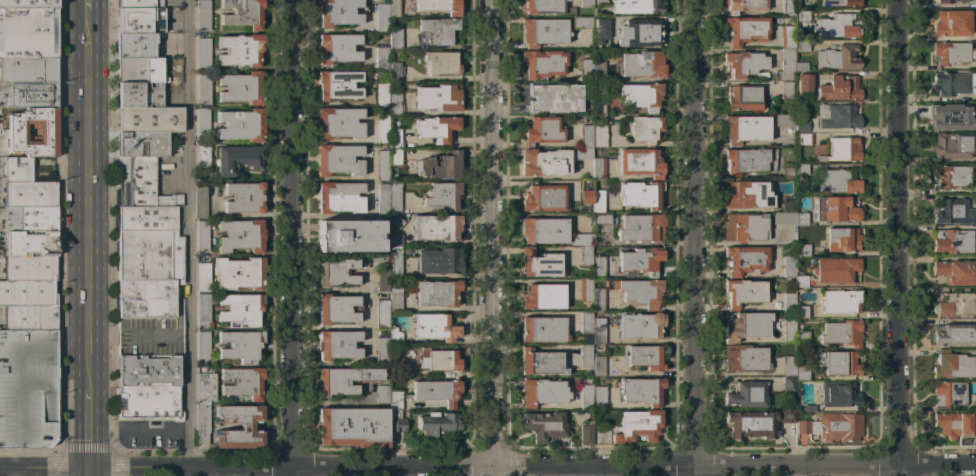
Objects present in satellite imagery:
building: (948, 1)
building: (599, 2)
building: (136, 3)
building: (585, 3)
building: (838, 3)
building: (27, 4)
building: (744, 5)
building: (439, 6)
building: (636, 6)
building: (541, 7)
building: (788, 7)
road: (91, 8)
building: (394, 8)
building: (337, 12)
building: (242, 13)
building: (202, 14)
building: (803, 15)
building: (382, 18)
building: (139, 20)
building: (790, 20)
building: (580, 22)
building: (952, 23)
building: (838, 26)
building: (745, 29)
building: (437, 30)
building: (600, 30)
building: (543, 31)
building: (28, 33)
building: (638, 33)
building: (788, 37)
building: (394, 38)
building: (135, 45)
building: (802, 46)
building: (337, 48)
building: (239, 50)
building: (952, 52)
building: (203, 53)
building: (837, 57)
building: (381, 58)
building: (442, 63)
building: (543, 63)
building: (744, 63)
building: (642, 64)
building: (786, 65)
building: (801, 66)
building: (394, 69)
building: (28, 70)
building: (139, 70)
building: (591, 71)
building: (804, 82)
building: (954, 83)
building: (337, 85)
building: (241, 88)
building: (839, 88)
building: (204, 89)
building: (786, 90)
building: (140, 94)
building: (381, 94)
building: (28, 95)
building: (642, 95)
building: (438, 98)
building: (554, 98)
building: (743, 98)
building: (395, 104)
building: (598, 104)
building: (838, 116)
building: (950, 116)
building: (150, 119)
building: (784, 120)
building: (202, 123)
building: (339, 123)
building: (241, 125)
building: (800, 125)
building: (436, 128)
building: (383, 129)
building: (645, 129)
building: (744, 129)
building: (542, 130)
building: (34, 132)
building: (599, 135)
building: (395, 139)
building: (804, 139)
building: (583, 143)
building: (141, 144)
building: (952, 146)
building: (842, 150)
building: (204, 156)
building: (395, 157)
building: (237, 159)
building: (337, 160)
building: (749, 161)
building: (640, 162)
building: (544, 163)
building: (383, 165)
building: (440, 166)
building: (18, 169)
building: (598, 169)
building: (801, 169)
building: (788, 173)
building: (951, 176)
building: (836, 182)
building: (141, 184)
building: (586, 192)
building: (30, 194)
building: (640, 194)
building: (747, 194)
building: (442, 195)
building: (243, 197)
building: (339, 197)
building: (543, 198)
building: (395, 199)
building: (383, 200)
building: (597, 201)
road: (91, 202)
building: (200, 202)
building: (836, 209)
building: (954, 212)
building: (784, 218)
building: (30, 219)
building: (601, 219)
building: (801, 219)
building: (397, 222)
building: (436, 227)
building: (745, 227)
building: (640, 228)
building: (544, 230)
road: (192, 234)
building: (202, 235)
building: (240, 235)
building: (349, 236)
road: (495, 237)
road: (298, 238)
road: (693, 238)
road: (903, 238)
building: (842, 239)
building: (395, 240)
building: (952, 241)
building: (30, 243)
building: (582, 247)
building: (802, 250)
building: (641, 260)
building: (745, 260)
building: (438, 261)
building: (539, 263)
building: (395, 265)
building: (598, 266)
building: (789, 266)
building: (834, 269)
building: (336, 272)
building: (956, 272)
building: (238, 273)
building: (203, 277)
building: (383, 280)
building: (28, 281)
building: (149, 281)
building: (800, 281)
building: (585, 290)
building: (640, 291)
building: (743, 292)
building: (436, 293)
building: (543, 297)
building: (598, 299)
building: (789, 301)
building: (841, 301)
building: (395, 302)
building: (955, 304)
building: (239, 309)
building: (338, 309)
building: (203, 311)
building: (801, 312)
building: (30, 318)
building: (386, 321)
building: (585, 323)
building: (641, 325)
building: (747, 326)
building: (435, 327)
building: (543, 329)
building: (598, 330)
building: (789, 331)
building: (842, 333)
building: (954, 334)
building: (802, 342)
building: (337, 344)
building: (202, 345)
building: (240, 345)
building: (382, 352)
building: (410, 352)
building: (584, 355)
building: (645, 357)
building: (744, 358)
building: (438, 360)
building: (541, 362)
building: (837, 363)
building: (954, 365)
building: (599, 366)
building: (789, 366)
building: (398, 367)
building: (202, 369)
building: (148, 371)
building: (802, 373)
building: (344, 380)
building: (242, 383)
building: (788, 384)
building: (28, 388)
parking lot: (28, 388)
building: (437, 391)
building: (642, 391)
building: (541, 392)
building: (949, 393)
building: (382, 394)
building: (747, 395)
building: (839, 395)
building: (585, 396)
building: (599, 397)
building: (150, 402)
building: (203, 406)
building: (809, 408)
building: (395, 412)
building: (787, 416)
building: (437, 424)
building: (750, 424)
building: (545, 425)
building: (953, 425)
road: (141, 426)
building: (245, 426)
road: (90, 427)
building: (352, 427)
building: (832, 427)
building: (631, 428)
building: (585, 435)
road: (487, 465)
traffic signals: (90, 468)
road: (90, 472)
road: (248, 473)

